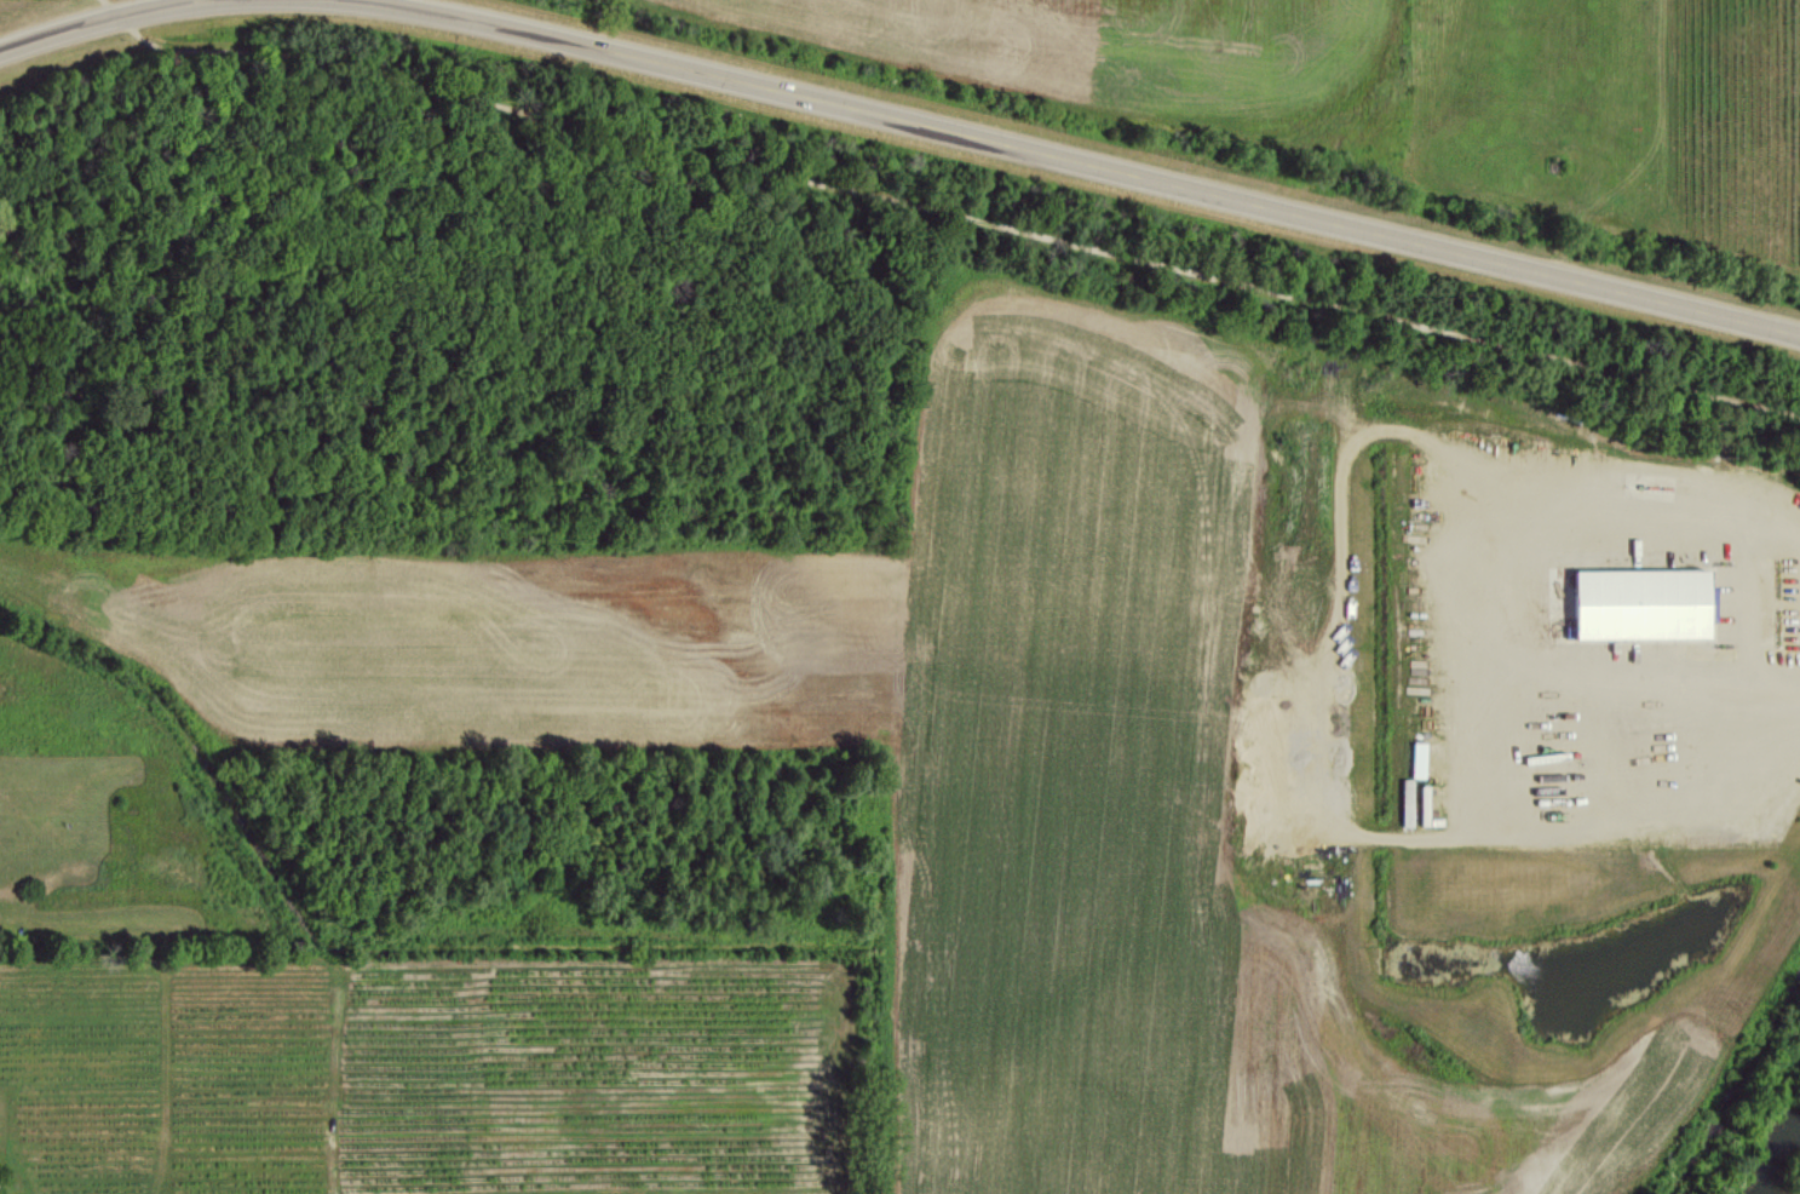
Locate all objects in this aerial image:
road: (100, 21)
road: (1088, 161)
road: (944, 214)
building: (1641, 603)
building: (1417, 759)

